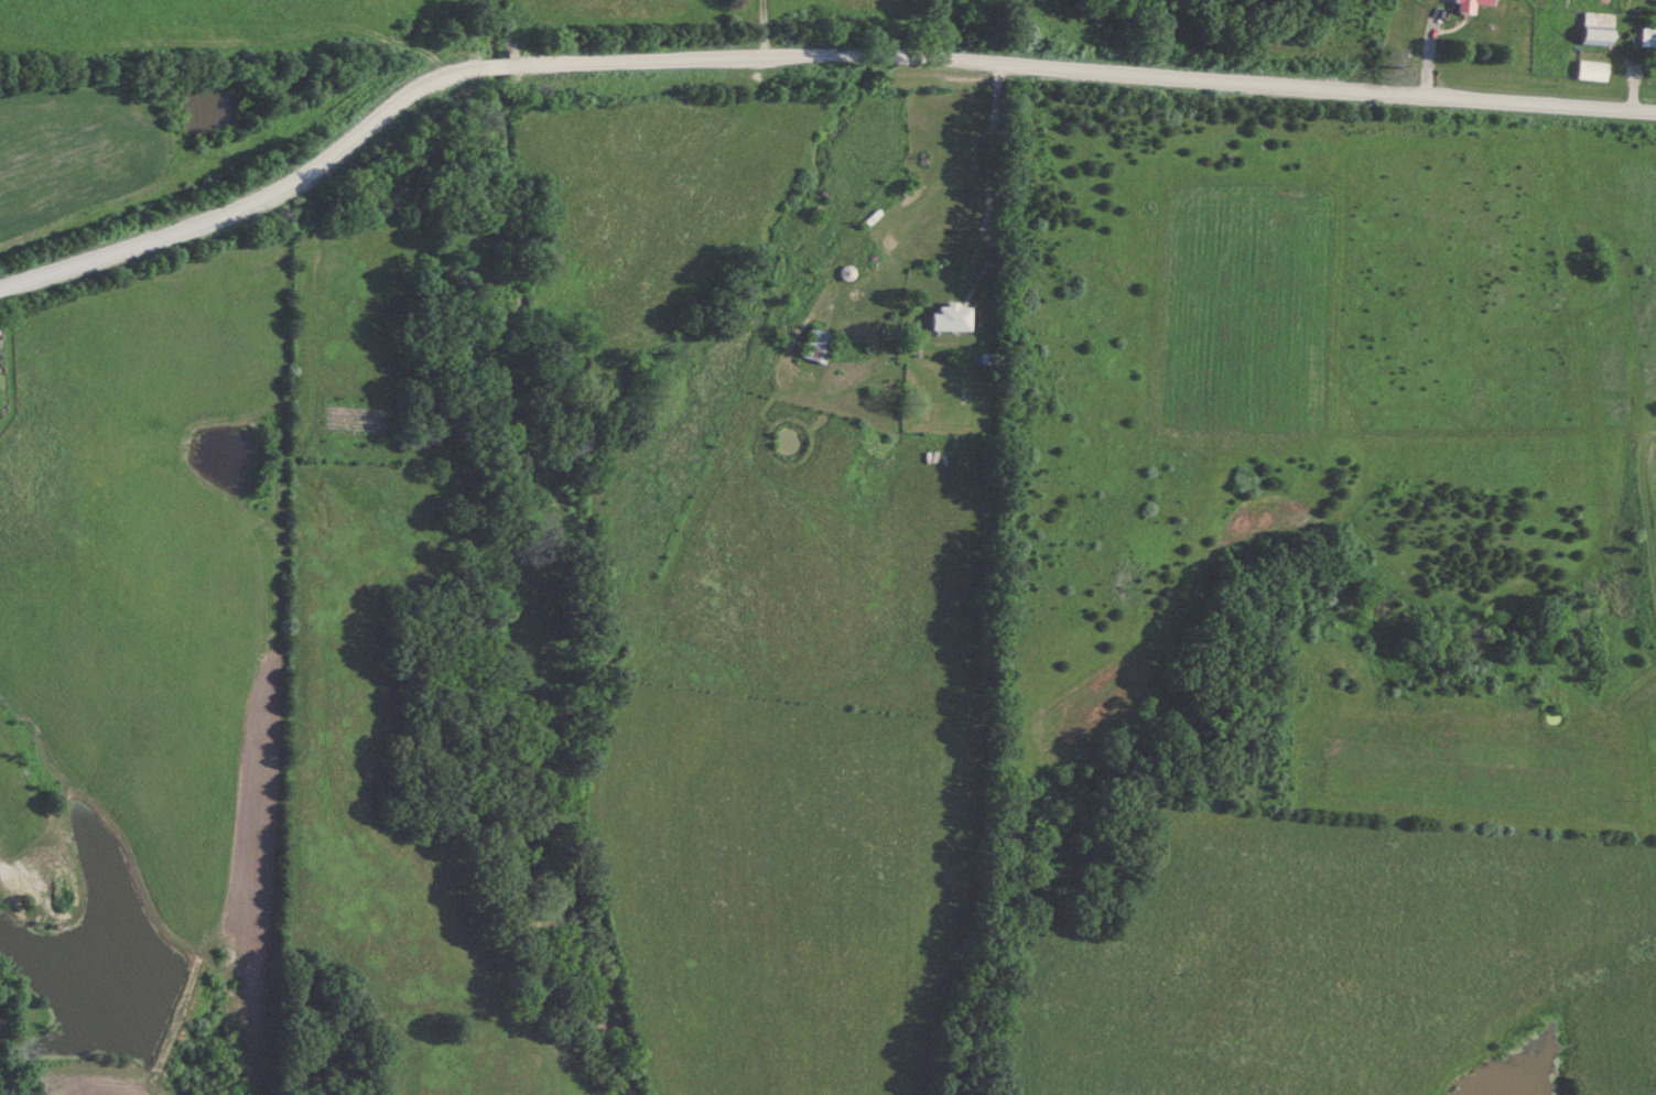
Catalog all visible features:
building: (1470, 4)
building: (1597, 29)
building: (1643, 37)
road: (801, 58)
road: (1628, 69)
building: (1591, 71)
road: (988, 237)
building: (951, 318)
building: (818, 346)

